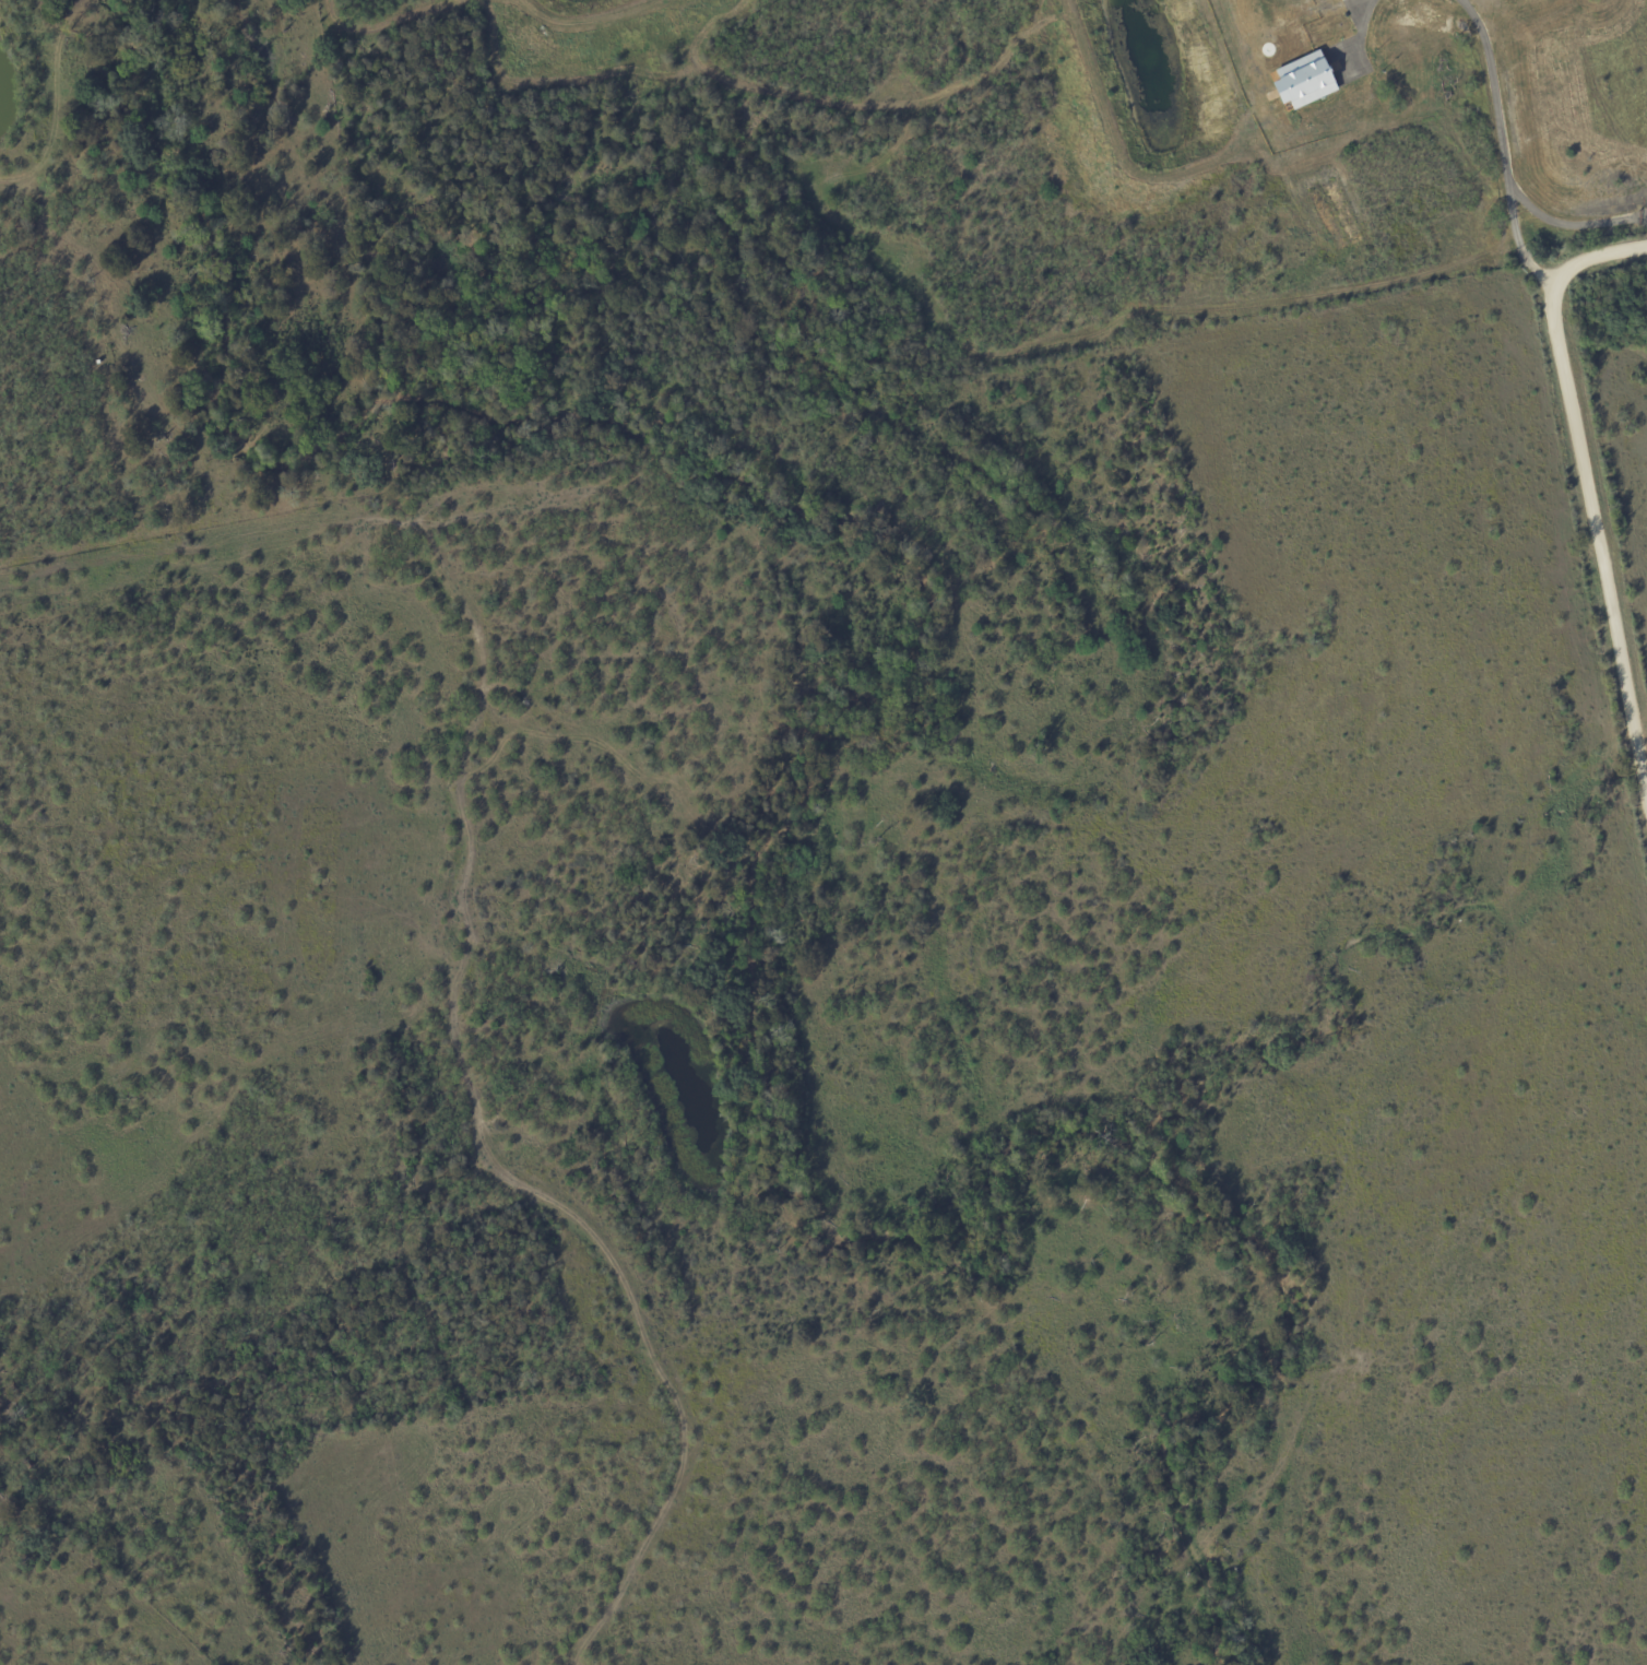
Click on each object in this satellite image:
building: (1308, 81)
road: (1501, 145)
road: (1587, 492)

